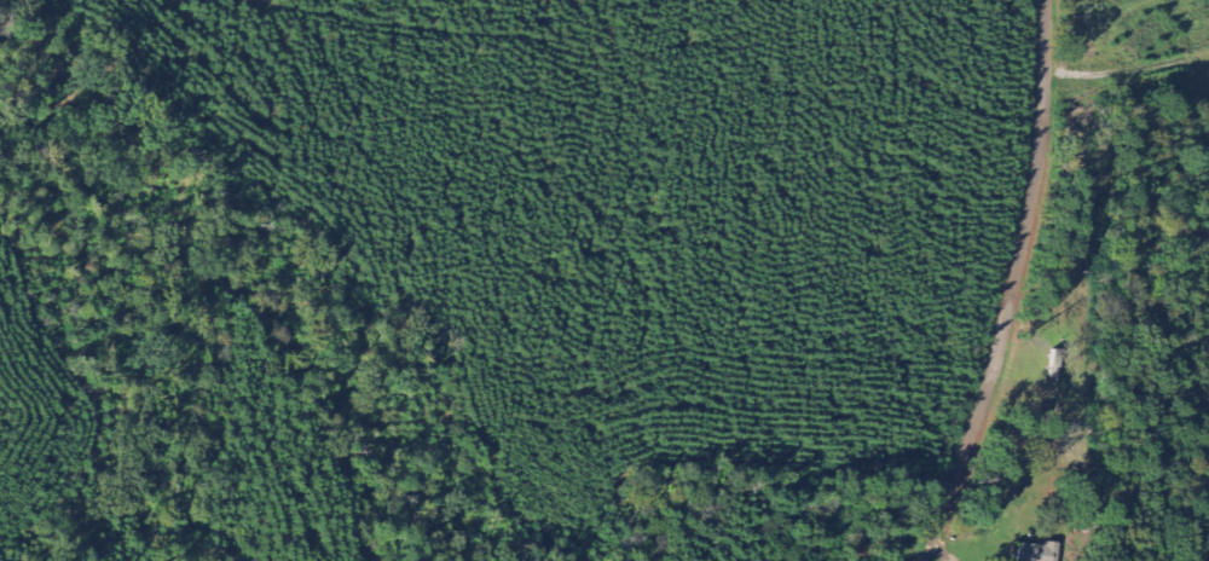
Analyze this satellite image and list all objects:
road: (987, 283)
building: (1041, 551)

